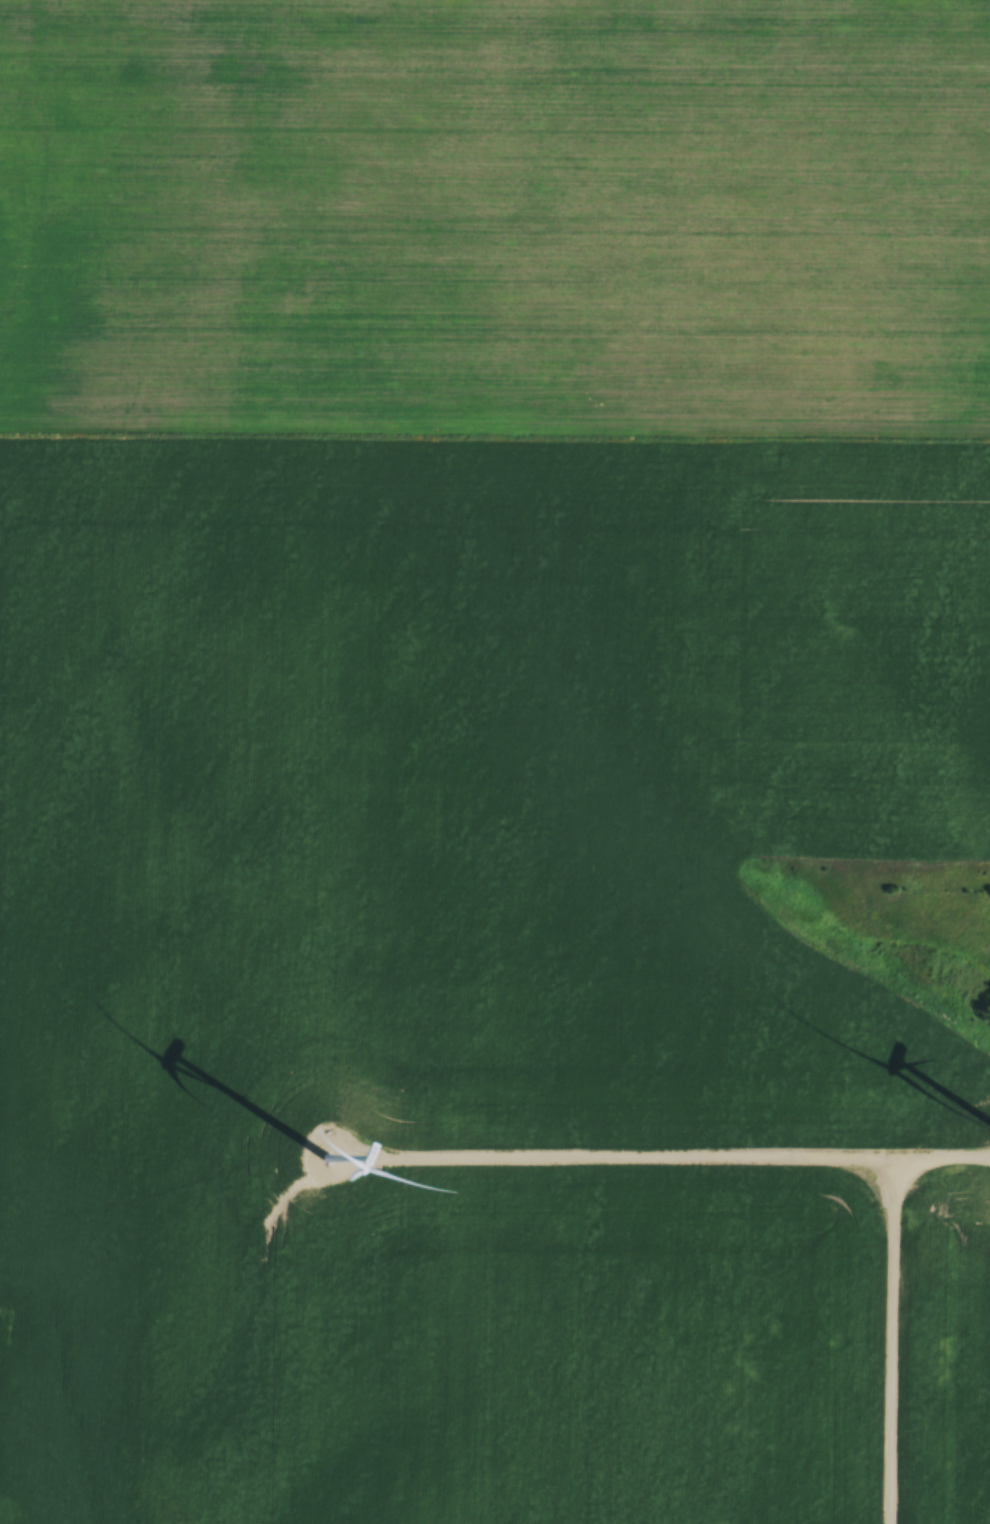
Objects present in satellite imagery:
wind turbine: (331, 1160)

